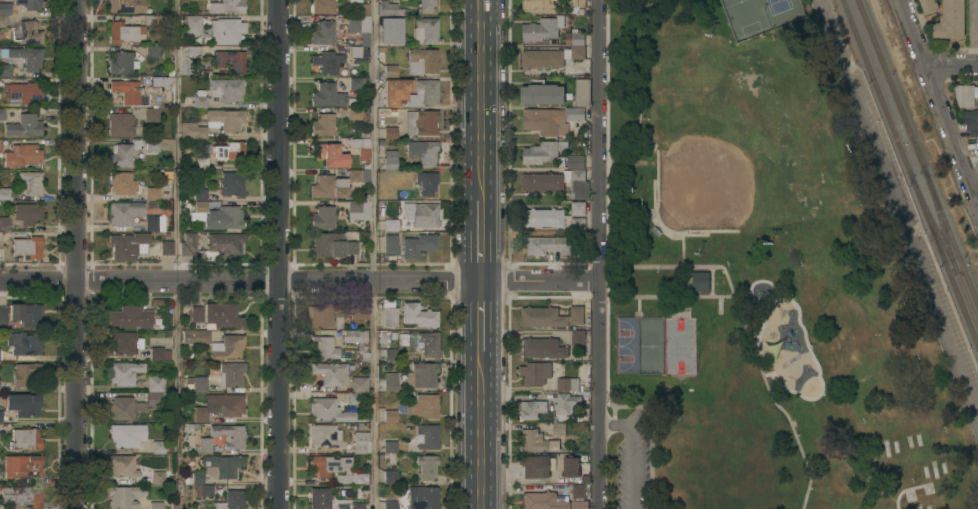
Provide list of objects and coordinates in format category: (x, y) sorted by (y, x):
building: (354, 1)
building: (29, 4)
building: (426, 5)
building: (126, 6)
building: (226, 6)
building: (322, 6)
building: (539, 6)
building: (577, 6)
building: (928, 6)
building: (385, 8)
building: (4, 12)
building: (157, 19)
building: (950, 20)
building: (193, 23)
building: (354, 24)
building: (543, 29)
building: (225, 30)
building: (426, 30)
building: (390, 31)
building: (26, 32)
building: (322, 32)
building: (123, 33)
building: (564, 35)
building: (568, 36)
building: (576, 38)
building: (360, 45)
building: (152, 51)
building: (23, 57)
building: (187, 57)
building: (551, 57)
building: (231, 60)
building: (327, 61)
building: (422, 61)
building: (121, 63)
road: (952, 64)
building: (5, 71)
building: (390, 71)
building: (162, 82)
building: (355, 83)
building: (226, 89)
building: (127, 91)
building: (23, 92)
building: (395, 92)
building: (582, 93)
building: (541, 94)
building: (330, 96)
building: (966, 96)
building: (199, 98)
road: (480, 99)
road: (939, 100)
building: (2, 113)
building: (355, 113)
building: (151, 114)
building: (574, 114)
building: (541, 121)
building: (421, 122)
building: (971, 122)
building: (213, 123)
building: (23, 125)
building: (122, 125)
building: (323, 125)
building: (390, 132)
building: (151, 144)
building: (361, 144)
building: (0, 145)
building: (229, 151)
building: (422, 151)
building: (545, 152)
building: (21, 155)
building: (120, 155)
building: (330, 155)
railway: (916, 155)
building: (390, 161)
building: (575, 162)
building: (201, 163)
building: (561, 163)
railway: (909, 174)
building: (358, 176)
building: (30, 182)
building: (120, 182)
building: (426, 182)
building: (558, 183)
building: (232, 184)
building: (329, 187)
building: (152, 193)
building: (200, 193)
building: (6, 194)
building: (390, 194)
building: (358, 207)
building: (578, 209)
building: (199, 210)
road: (899, 210)
building: (124, 212)
building: (21, 215)
building: (425, 215)
building: (223, 218)
building: (323, 218)
building: (551, 219)
railway: (938, 220)
building: (154, 223)
railway: (931, 223)
building: (390, 225)
road: (479, 239)
building: (187, 244)
building: (327, 244)
building: (390, 244)
building: (126, 245)
building: (419, 245)
building: (548, 245)
building: (224, 246)
building: (27, 247)
building: (166, 247)
building: (351, 247)
parking lot: (918, 249)
road: (78, 254)
road: (180, 254)
road: (279, 254)
road: (374, 254)
road: (600, 254)
park: (772, 276)
road: (300, 281)
building: (701, 282)
railway: (965, 300)
building: (357, 313)
building: (25, 314)
building: (197, 314)
building: (323, 314)
building: (221, 315)
building: (418, 315)
road: (479, 315)
building: (3, 316)
building: (131, 316)
building: (390, 317)
building: (551, 317)
building: (193, 335)
building: (578, 338)
building: (125, 342)
building: (358, 342)
building: (421, 342)
building: (24, 343)
building: (227, 347)
building: (323, 347)
building: (542, 348)
building: (159, 353)
building: (390, 354)
building: (125, 372)
building: (25, 373)
building: (331, 373)
building: (230, 374)
building: (424, 374)
building: (534, 374)
building: (577, 380)
building: (390, 381)
building: (198, 383)
building: (357, 389)
building: (122, 398)
building: (565, 403)
building: (22, 404)
building: (220, 406)
building: (423, 406)
building: (531, 409)
building: (328, 410)
building: (1, 416)
building: (390, 416)
road: (480, 429)
building: (559, 429)
building: (229, 435)
building: (324, 435)
building: (123, 436)
building: (427, 437)
building: (25, 439)
building: (532, 441)
building: (361, 443)
building: (205, 445)
building: (390, 446)
building: (158, 447)
road: (635, 450)
parking lot: (630, 457)
building: (328, 464)
building: (21, 465)
building: (122, 465)
building: (223, 465)
building: (427, 466)
building: (534, 466)
building: (571, 467)
building: (157, 476)
building: (358, 477)
building: (390, 477)
building: (194, 478)
building: (203, 490)
building: (578, 492)
building: (22, 496)
building: (125, 496)
building: (422, 497)
building: (320, 498)
building: (232, 500)
building: (543, 500)
building: (390, 504)
building: (155, 505)
building: (357, 505)
building: (580, 505)
building: (2, 507)

